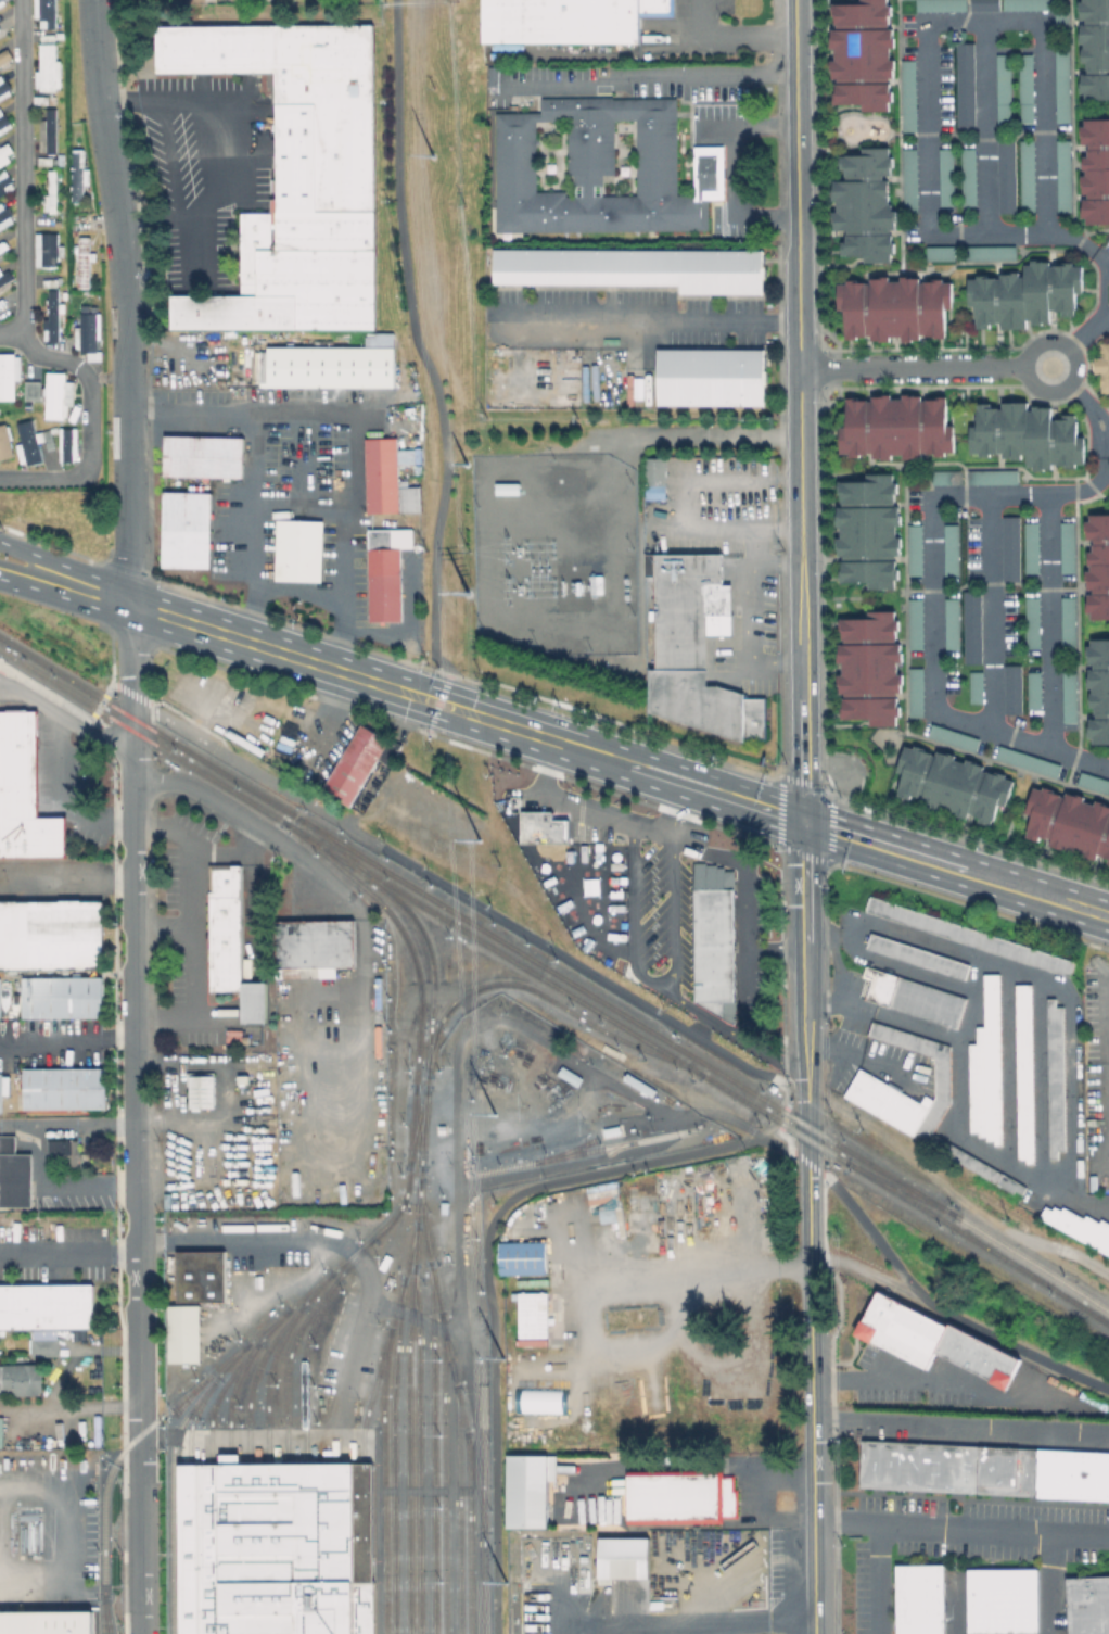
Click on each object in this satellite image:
building: (2, 1)
building: (943, 5)
building: (987, 5)
building: (1030, 5)
building: (42, 12)
building: (566, 20)
building: (1063, 23)
road: (736, 36)
road: (922, 47)
building: (1097, 51)
building: (865, 54)
building: (46, 67)
building: (514, 71)
road: (649, 73)
building: (3, 88)
building: (968, 88)
building: (1065, 88)
building: (1029, 89)
building: (1005, 90)
building: (910, 97)
road: (113, 101)
building: (2, 122)
road: (795, 123)
road: (983, 124)
building: (46, 131)
road: (222, 139)
building: (4, 152)
building: (600, 167)
road: (732, 170)
building: (1097, 173)
building: (76, 175)
building: (1066, 176)
building: (297, 177)
building: (971, 177)
building: (1008, 177)
building: (1030, 177)
building: (948, 178)
road: (24, 181)
building: (4, 182)
building: (913, 182)
building: (48, 202)
building: (867, 204)
building: (3, 216)
building: (44, 249)
building: (943, 254)
building: (993, 254)
road: (1100, 254)
building: (81, 262)
building: (637, 269)
building: (4, 276)
building: (1024, 294)
road: (124, 300)
building: (896, 307)
road: (649, 314)
building: (50, 317)
building: (86, 329)
road: (416, 330)
road: (1076, 338)
building: (381, 339)
road: (798, 352)
building: (1102, 362)
building: (329, 368)
road: (923, 368)
building: (8, 375)
building: (713, 378)
building: (31, 389)
building: (55, 395)
road: (1085, 405)
building: (898, 428)
road: (92, 430)
building: (1029, 434)
road: (716, 439)
building: (4, 442)
building: (30, 442)
building: (65, 444)
building: (202, 457)
road: (253, 459)
building: (947, 478)
building: (995, 478)
building: (386, 479)
building: (658, 480)
building: (508, 487)
road: (350, 490)
road: (679, 503)
road: (800, 506)
building: (184, 531)
building: (869, 531)
building: (1069, 547)
building: (1012, 548)
building: (1033, 548)
power substation: (556, 550)
building: (917, 550)
building: (953, 550)
building: (297, 552)
building: (1098, 566)
road: (67, 568)
building: (383, 573)
road: (65, 598)
road: (931, 598)
road: (990, 608)
road: (740, 612)
road: (1049, 616)
building: (1070, 622)
building: (1035, 623)
building: (954, 624)
building: (918, 625)
building: (974, 628)
building: (697, 647)
road: (284, 651)
road: (443, 663)
road: (3, 666)
railway: (49, 667)
building: (872, 669)
road: (1, 679)
railway: (50, 681)
road: (802, 688)
building: (978, 688)
building: (1015, 691)
building: (1036, 692)
building: (918, 693)
building: (1100, 695)
building: (1071, 698)
railway: (103, 699)
road: (73, 707)
railway: (130, 714)
road: (66, 717)
road: (62, 721)
road: (176, 723)
railway: (128, 727)
building: (955, 738)
railway: (168, 739)
building: (357, 762)
road: (620, 762)
building: (1030, 762)
railway: (217, 781)
railway: (239, 783)
building: (1095, 783)
building: (955, 784)
road: (60, 790)
building: (23, 793)
road: (302, 799)
road: (684, 812)
road: (245, 821)
road: (607, 821)
traffic signals: (804, 822)
building: (1071, 823)
road: (123, 825)
road: (150, 825)
building: (541, 827)
railway: (433, 833)
railway: (327, 840)
railway: (319, 843)
road: (231, 851)
railway: (320, 851)
railway: (383, 869)
road: (956, 870)
road: (53, 877)
road: (122, 877)
railway: (388, 892)
railway: (413, 900)
road: (805, 915)
road: (191, 920)
road: (164, 925)
building: (224, 927)
building: (50, 934)
building: (970, 935)
building: (712, 938)
building: (314, 945)
building: (918, 954)
railway: (413, 963)
railway: (431, 964)
road: (664, 973)
railway: (484, 985)
road: (621, 990)
building: (61, 997)
building: (916, 997)
railway: (585, 1004)
road: (211, 1013)
railway: (625, 1015)
road: (156, 1016)
building: (378, 1023)
road: (118, 1039)
road: (50, 1040)
railway: (428, 1041)
railway: (645, 1049)
building: (989, 1066)
building: (1025, 1072)
railway: (415, 1073)
building: (568, 1076)
building: (1057, 1077)
building: (243, 1078)
road: (1102, 1079)
road: (806, 1086)
building: (63, 1088)
building: (200, 1090)
railway: (739, 1098)
road: (138, 1117)
building: (912, 1117)
road: (68, 1124)
railway: (805, 1125)
railway: (416, 1126)
railway: (417, 1126)
railway: (805, 1137)
railway: (621, 1143)
road: (778, 1147)
building: (61, 1151)
railway: (583, 1151)
railway: (558, 1152)
railway: (838, 1157)
road: (456, 1163)
road: (574, 1164)
railway: (419, 1168)
building: (14, 1175)
railway: (870, 1175)
railway: (892, 1178)
road: (52, 1185)
road: (125, 1187)
railway: (896, 1193)
railway: (926, 1200)
building: (687, 1208)
road: (808, 1208)
building: (525, 1217)
building: (1075, 1227)
road: (55, 1254)
road: (125, 1254)
railway: (353, 1255)
building: (523, 1257)
road: (849, 1261)
railway: (1031, 1262)
road: (702, 1270)
railway: (403, 1272)
railway: (1030, 1274)
building: (199, 1276)
railway: (315, 1288)
road: (490, 1293)
road: (935, 1304)
building: (46, 1306)
road: (415, 1316)
railway: (270, 1325)
road: (360, 1327)
building: (181, 1333)
rooftop solar panel: (46, 1337)
building: (934, 1341)
building: (47, 1346)
railway: (237, 1350)
railway: (447, 1354)
railway: (285, 1360)
railway: (303, 1364)
railway: (253, 1376)
building: (21, 1378)
railway: (266, 1378)
road: (885, 1382)
railway: (371, 1392)
railway: (229, 1394)
railway: (188, 1395)
railway: (216, 1396)
road: (69, 1410)
railway: (191, 1418)
road: (960, 1428)
road: (812, 1443)
railway: (406, 1447)
railway: (417, 1447)
railway: (432, 1447)
railway: (392, 1455)
railway: (267, 1460)
railway: (442, 1471)
building: (985, 1471)
road: (400, 1472)
railway: (170, 1475)
road: (425, 1478)
railway: (381, 1480)
building: (532, 1491)
road: (450, 1494)
building: (676, 1495)
building: (730, 1496)
railway: (228, 1507)
railway: (458, 1508)
railway: (481, 1509)
railway: (247, 1510)
railway: (267, 1510)
railway: (285, 1510)
railway: (304, 1510)
railway: (361, 1510)
railway: (188, 1512)
railway: (209, 1512)
road: (375, 1512)
road: (960, 1529)
railway: (468, 1533)
road: (63, 1535)
building: (275, 1548)
building: (621, 1558)
road: (883, 1580)
railway: (321, 1582)
road: (102, 1584)
road: (1050, 1584)
building: (918, 1598)
building: (1000, 1600)
building: (1087, 1605)
railway: (189, 1608)
railway: (211, 1608)
railway: (230, 1608)
railway: (248, 1608)
railway: (267, 1608)
railway: (286, 1608)
railway: (362, 1608)
railway: (103, 1613)
road: (691, 1619)
building: (46, 1622)

